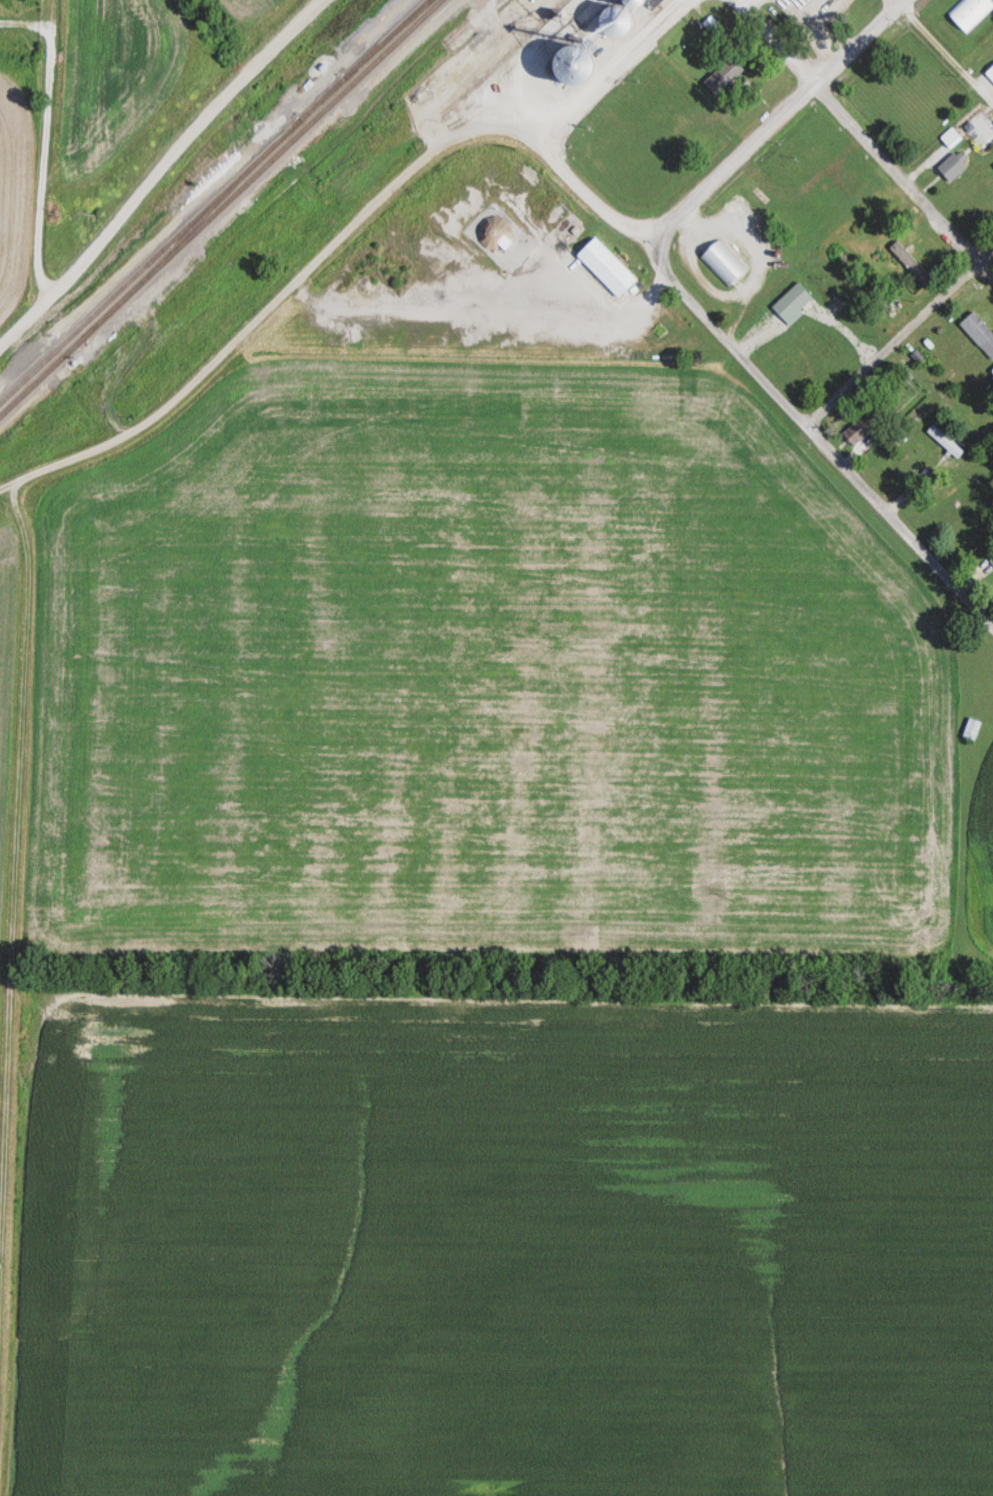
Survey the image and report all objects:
building: (584, 5)
building: (969, 12)
building: (623, 19)
railway: (386, 39)
railway: (389, 39)
railway: (513, 48)
road: (945, 52)
building: (991, 73)
building: (726, 74)
building: (537, 91)
railway: (323, 99)
road: (769, 123)
road: (865, 139)
road: (47, 148)
building: (956, 165)
railway: (263, 169)
road: (159, 170)
building: (981, 202)
railway: (192, 229)
road: (342, 235)
railway: (150, 263)
building: (724, 263)
building: (911, 263)
building: (610, 267)
building: (907, 291)
building: (796, 303)
building: (980, 330)
road: (898, 335)
railway: (42, 377)
road: (761, 378)
building: (862, 428)
building: (992, 562)
building: (974, 729)
road: (14, 903)

